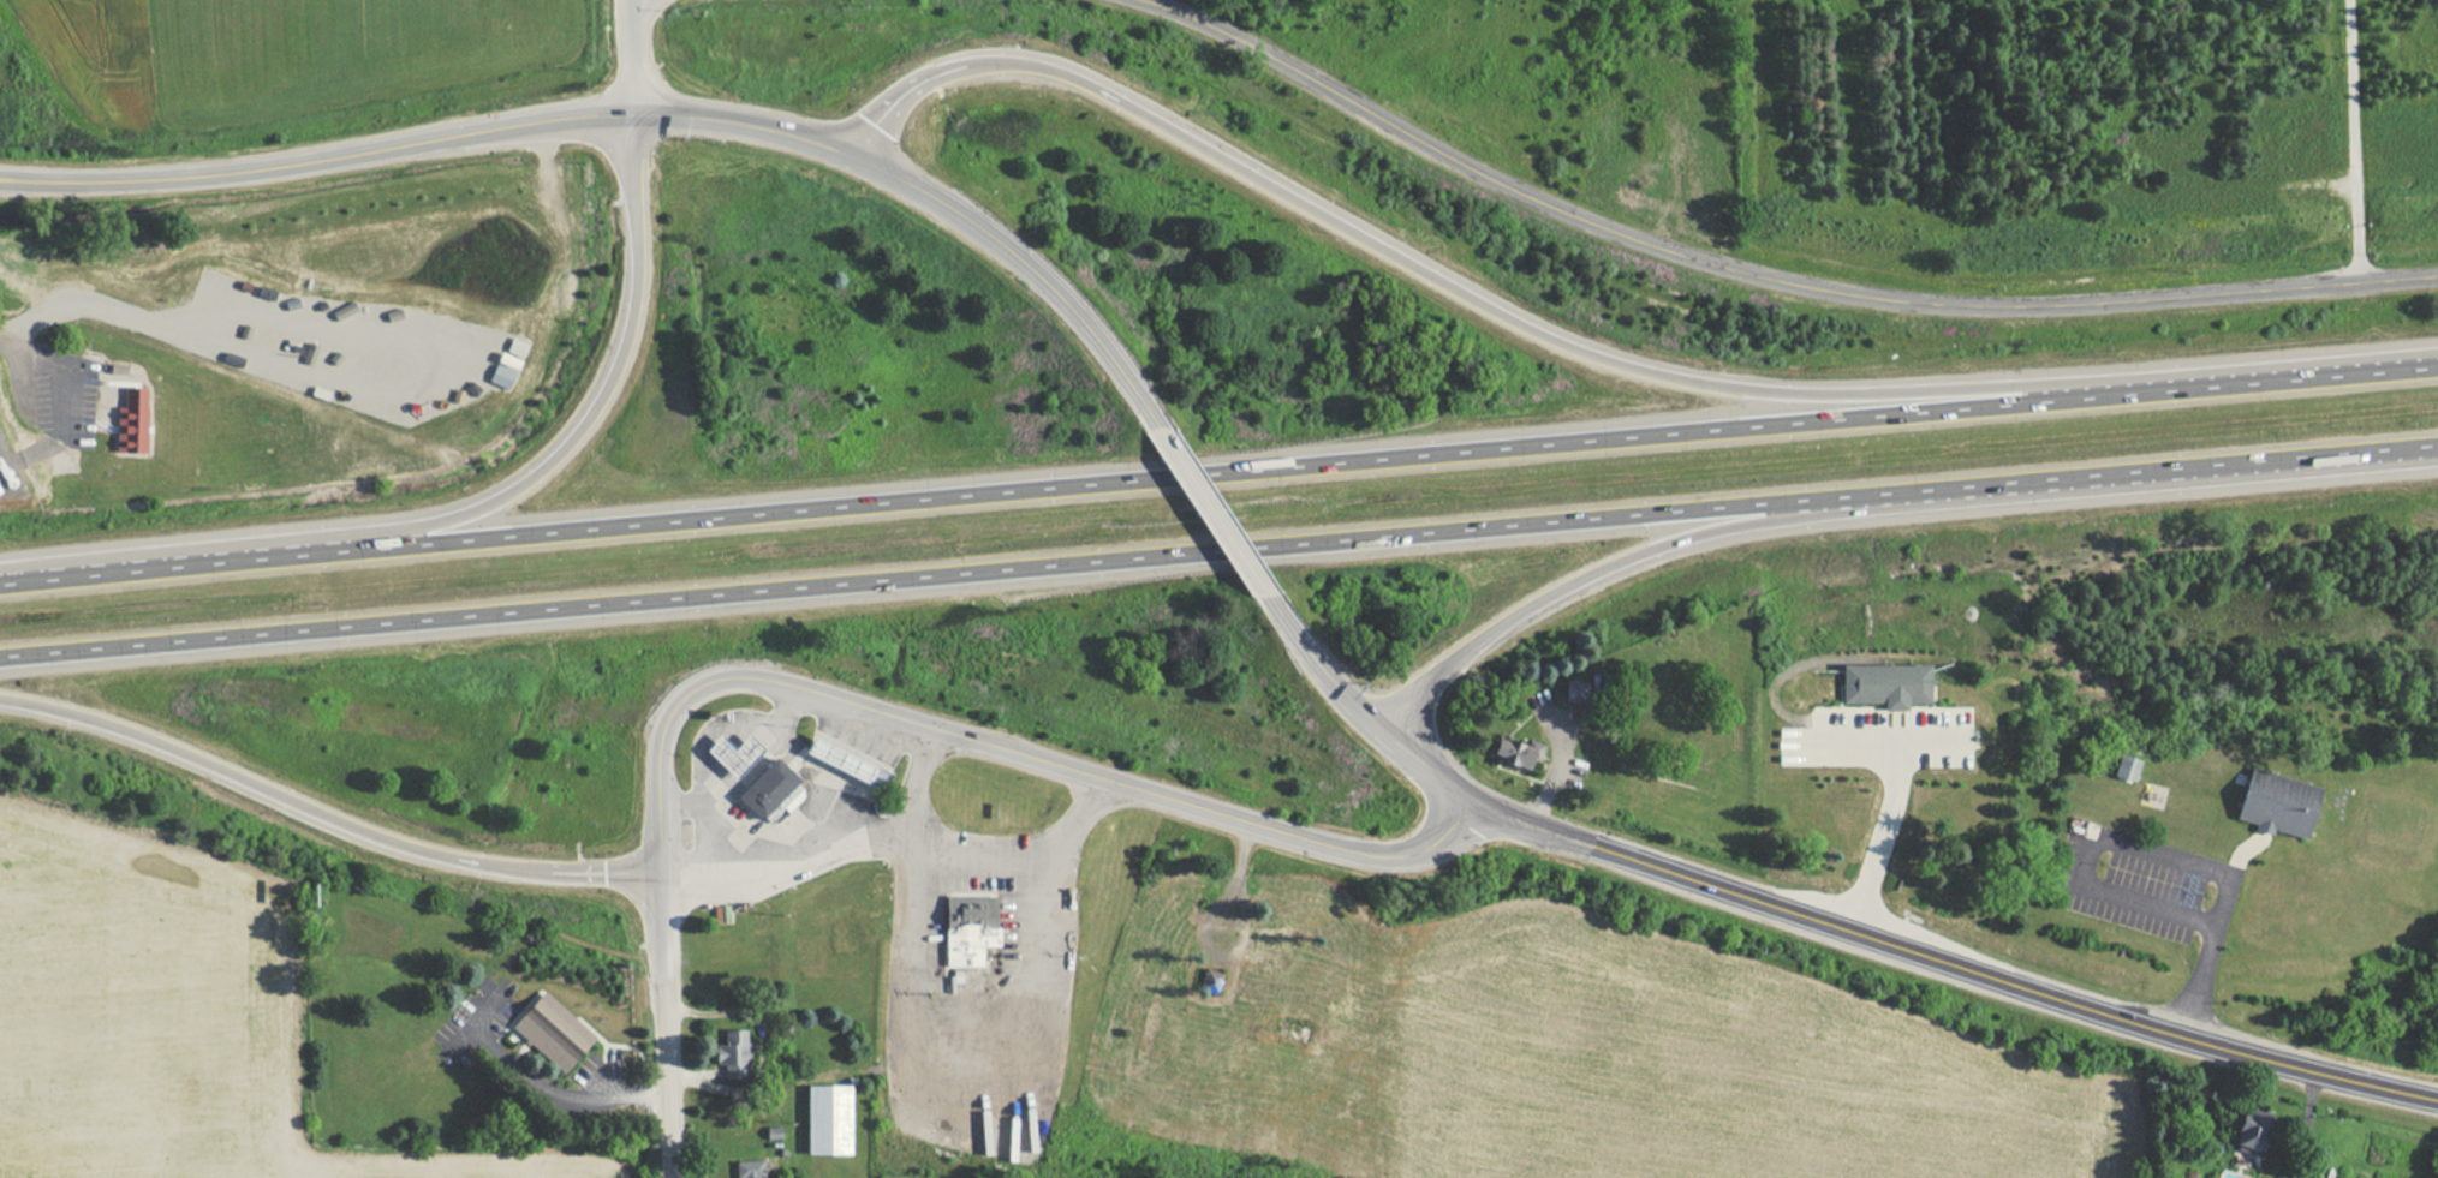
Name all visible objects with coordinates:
crop: (91, 47)
road: (628, 56)
road: (899, 96)
road: (634, 114)
road: (2354, 140)
road: (1766, 279)
road: (1530, 329)
road: (18, 345)
parking lot: (66, 387)
road: (590, 409)
building: (131, 411)
road: (1218, 473)
road: (1216, 513)
road: (1218, 551)
road: (1598, 567)
road: (1321, 669)
building: (1884, 681)
road: (1769, 684)
building: (1575, 692)
road: (1932, 694)
road: (1840, 696)
building: (1894, 701)
road: (1882, 710)
road: (1895, 716)
parking lot: (1882, 737)
road: (1882, 737)
road: (993, 743)
building: (740, 753)
building: (1520, 753)
building: (854, 763)
road: (737, 764)
building: (2127, 767)
road: (240, 775)
road: (845, 779)
building: (773, 788)
building: (2281, 803)
road: (722, 832)
road: (1878, 836)
road: (2146, 851)
road: (781, 856)
road: (962, 859)
road: (566, 871)
parking lot: (2126, 891)
road: (657, 915)
building: (970, 926)
road: (1896, 946)
parking lot: (514, 993)
road: (965, 1009)
parking lot: (479, 1013)
crop: (166, 1019)
road: (466, 1029)
building: (555, 1030)
building: (733, 1048)
road: (759, 1048)
parking lot: (601, 1064)
road: (667, 1069)
crop: (1723, 1075)
road: (705, 1076)
road: (606, 1081)
road: (541, 1087)
building: (830, 1118)
road: (2306, 1122)
building: (2254, 1131)
building: (751, 1168)

